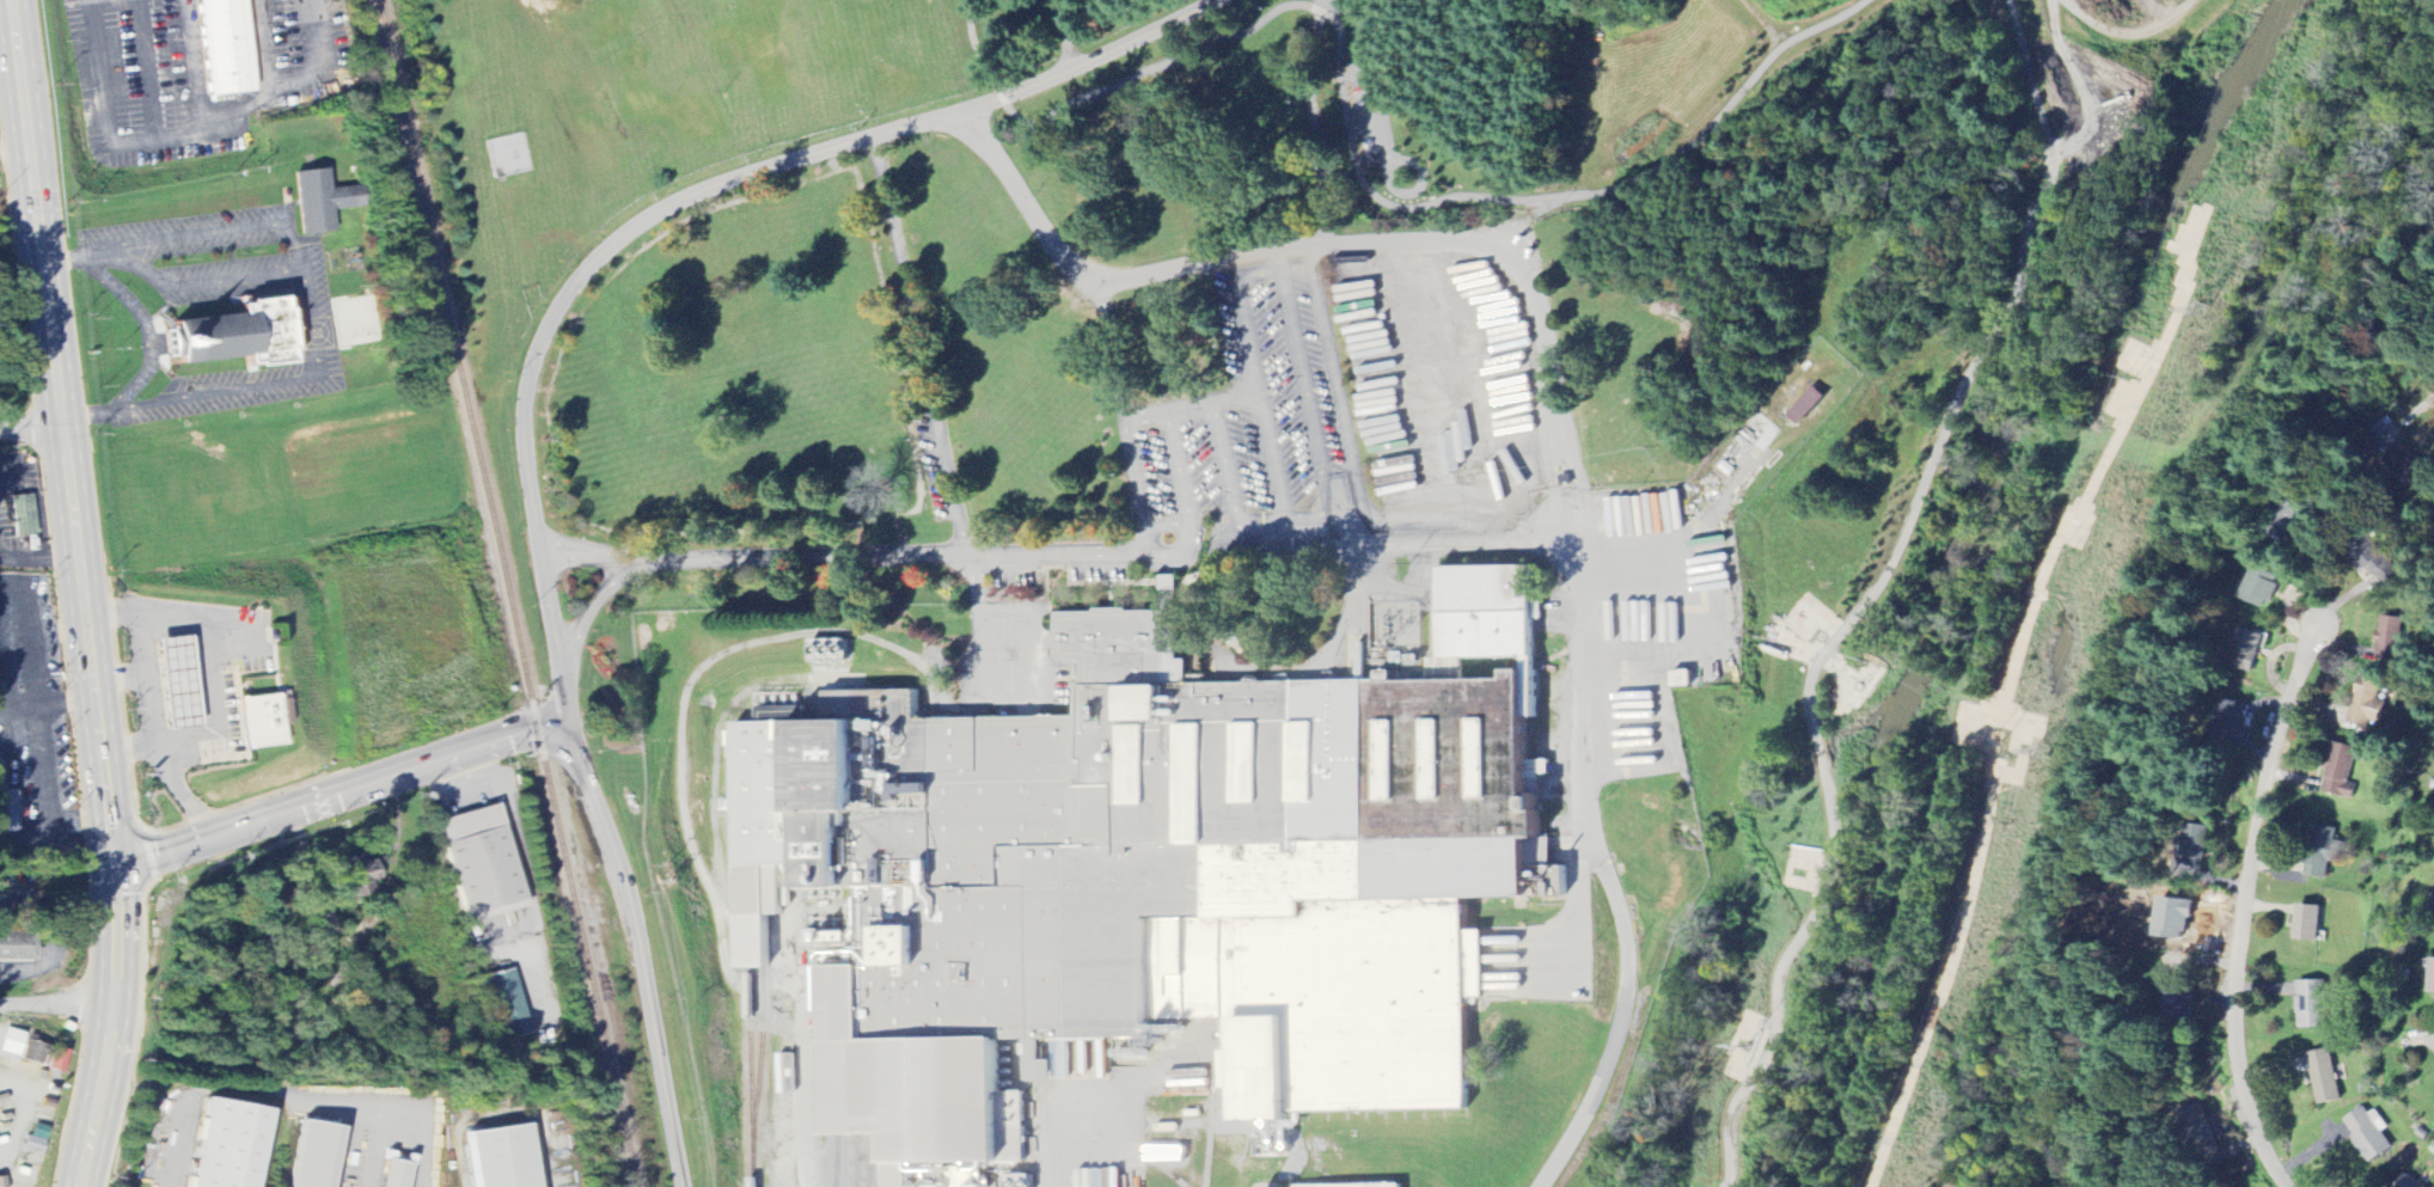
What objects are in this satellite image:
road: (1072, 33)
road: (2122, 33)
building: (227, 48)
road: (978, 49)
road: (1381, 65)
park: (672, 103)
park: (1056, 106)
parking lot: (1370, 116)
road: (1390, 137)
road: (1381, 191)
road: (677, 200)
building: (323, 201)
road: (1192, 267)
road: (307, 304)
power tower: (2195, 311)
road: (141, 326)
building: (239, 336)
road: (918, 347)
road: (2415, 378)
road: (1552, 396)
building: (1806, 406)
road: (1123, 415)
road: (38, 435)
building: (24, 515)
road: (1482, 545)
road: (597, 552)
road: (1068, 555)
road: (807, 561)
building: (2380, 565)
building: (2261, 587)
road: (94, 592)
railway: (508, 592)
park: (1878, 595)
road: (1876, 596)
road: (594, 599)
building: (2390, 638)
building: (2248, 650)
building: (1683, 679)
building: (179, 683)
road: (990, 686)
building: (2368, 706)
building: (2228, 720)
building: (264, 721)
building: (729, 746)
power tower: (2039, 751)
building: (2342, 772)
road: (341, 793)
building: (727, 807)
building: (2196, 843)
building: (2320, 852)
road: (1598, 855)
building: (483, 863)
traffic signals: (117, 864)
building: (357, 877)
road: (2249, 886)
road: (1577, 894)
building: (2433, 918)
building: (2292, 920)
building: (2310, 924)
building: (17, 947)
road: (640, 948)
building: (2433, 979)
building: (2179, 1002)
building: (507, 1005)
road: (59, 1006)
railway: (758, 1016)
railway: (746, 1024)
building: (11, 1042)
building: (33, 1051)
building: (2325, 1078)
road: (292, 1096)
road: (1039, 1134)
building: (2369, 1134)
building: (230, 1145)
building: (316, 1155)
building: (506, 1157)
railway: (834, 1158)
railway: (868, 1162)
railway: (851, 1163)
road: (1553, 1168)
building: (395, 1171)
building: (1, 1182)
building: (1374, 1186)

